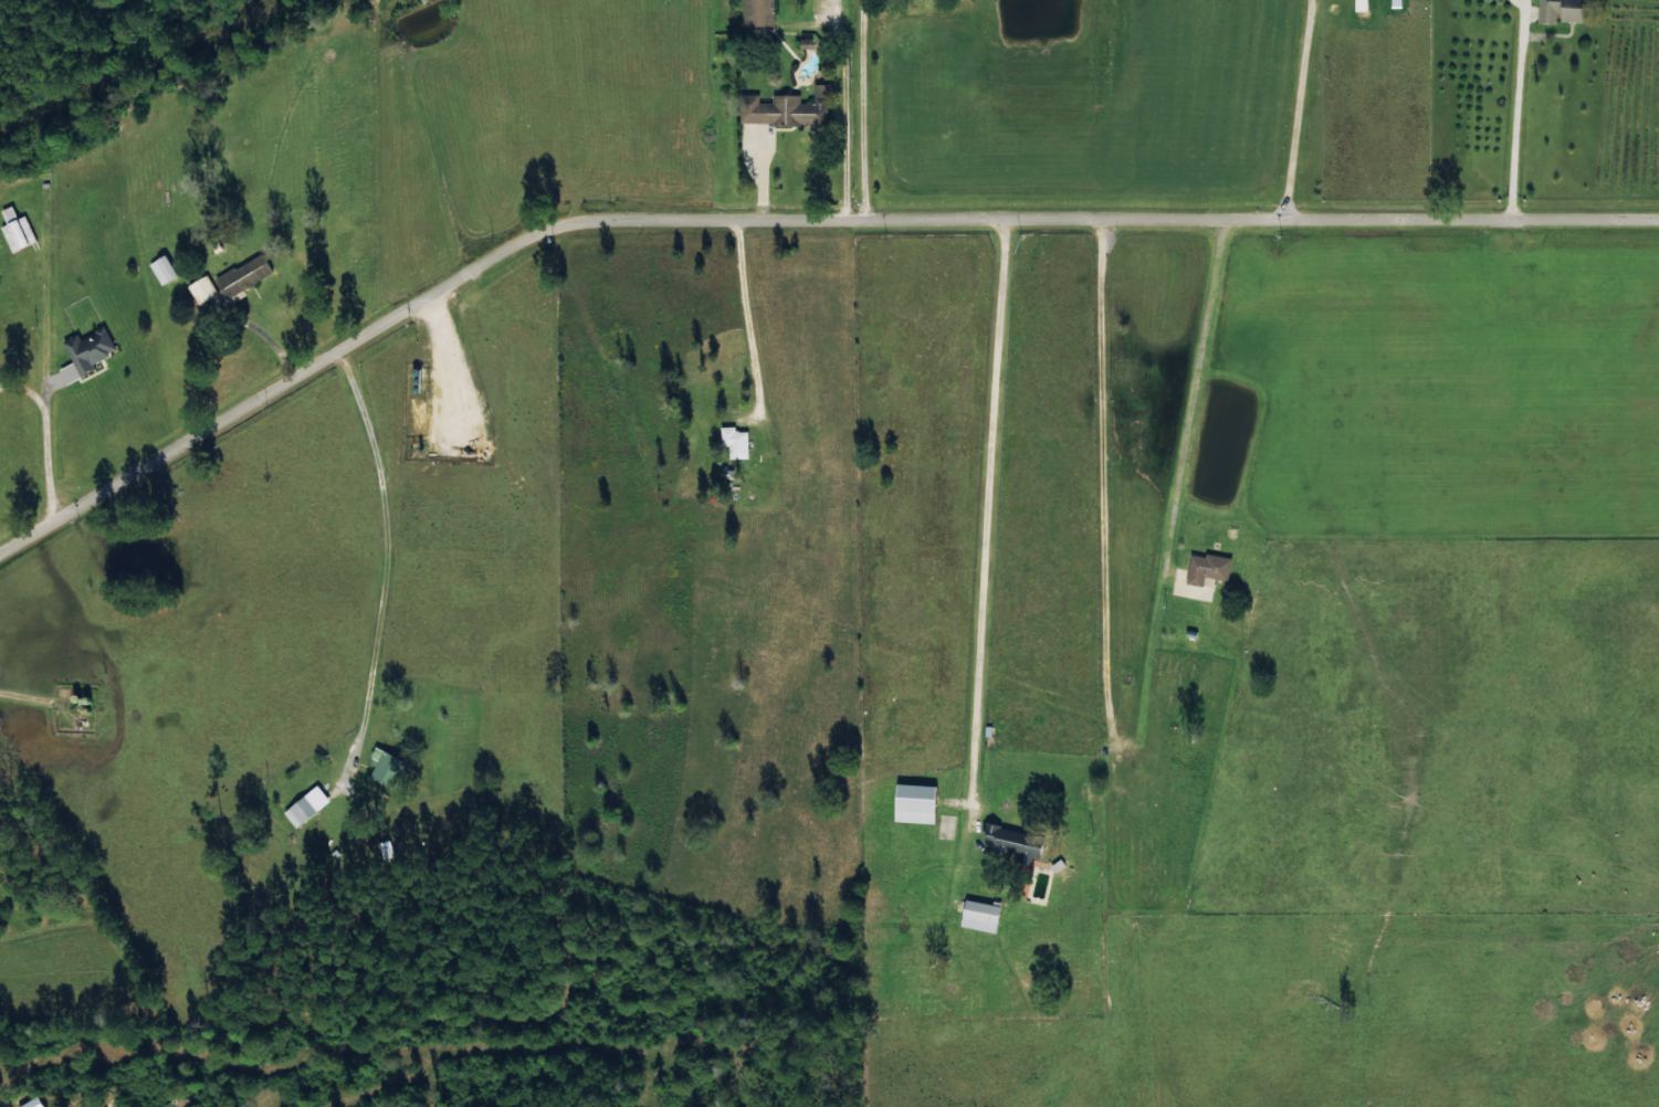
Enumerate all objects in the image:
building: (1359, 4)
building: (1560, 11)
building: (758, 12)
building: (805, 43)
building: (787, 108)
road: (796, 223)
building: (15, 230)
building: (162, 268)
building: (201, 289)
building: (86, 351)
road: (1172, 403)
building: (734, 442)
road: (975, 517)
building: (1207, 568)
building: (387, 769)
building: (914, 803)
building: (300, 811)
building: (1011, 843)
building: (979, 915)

